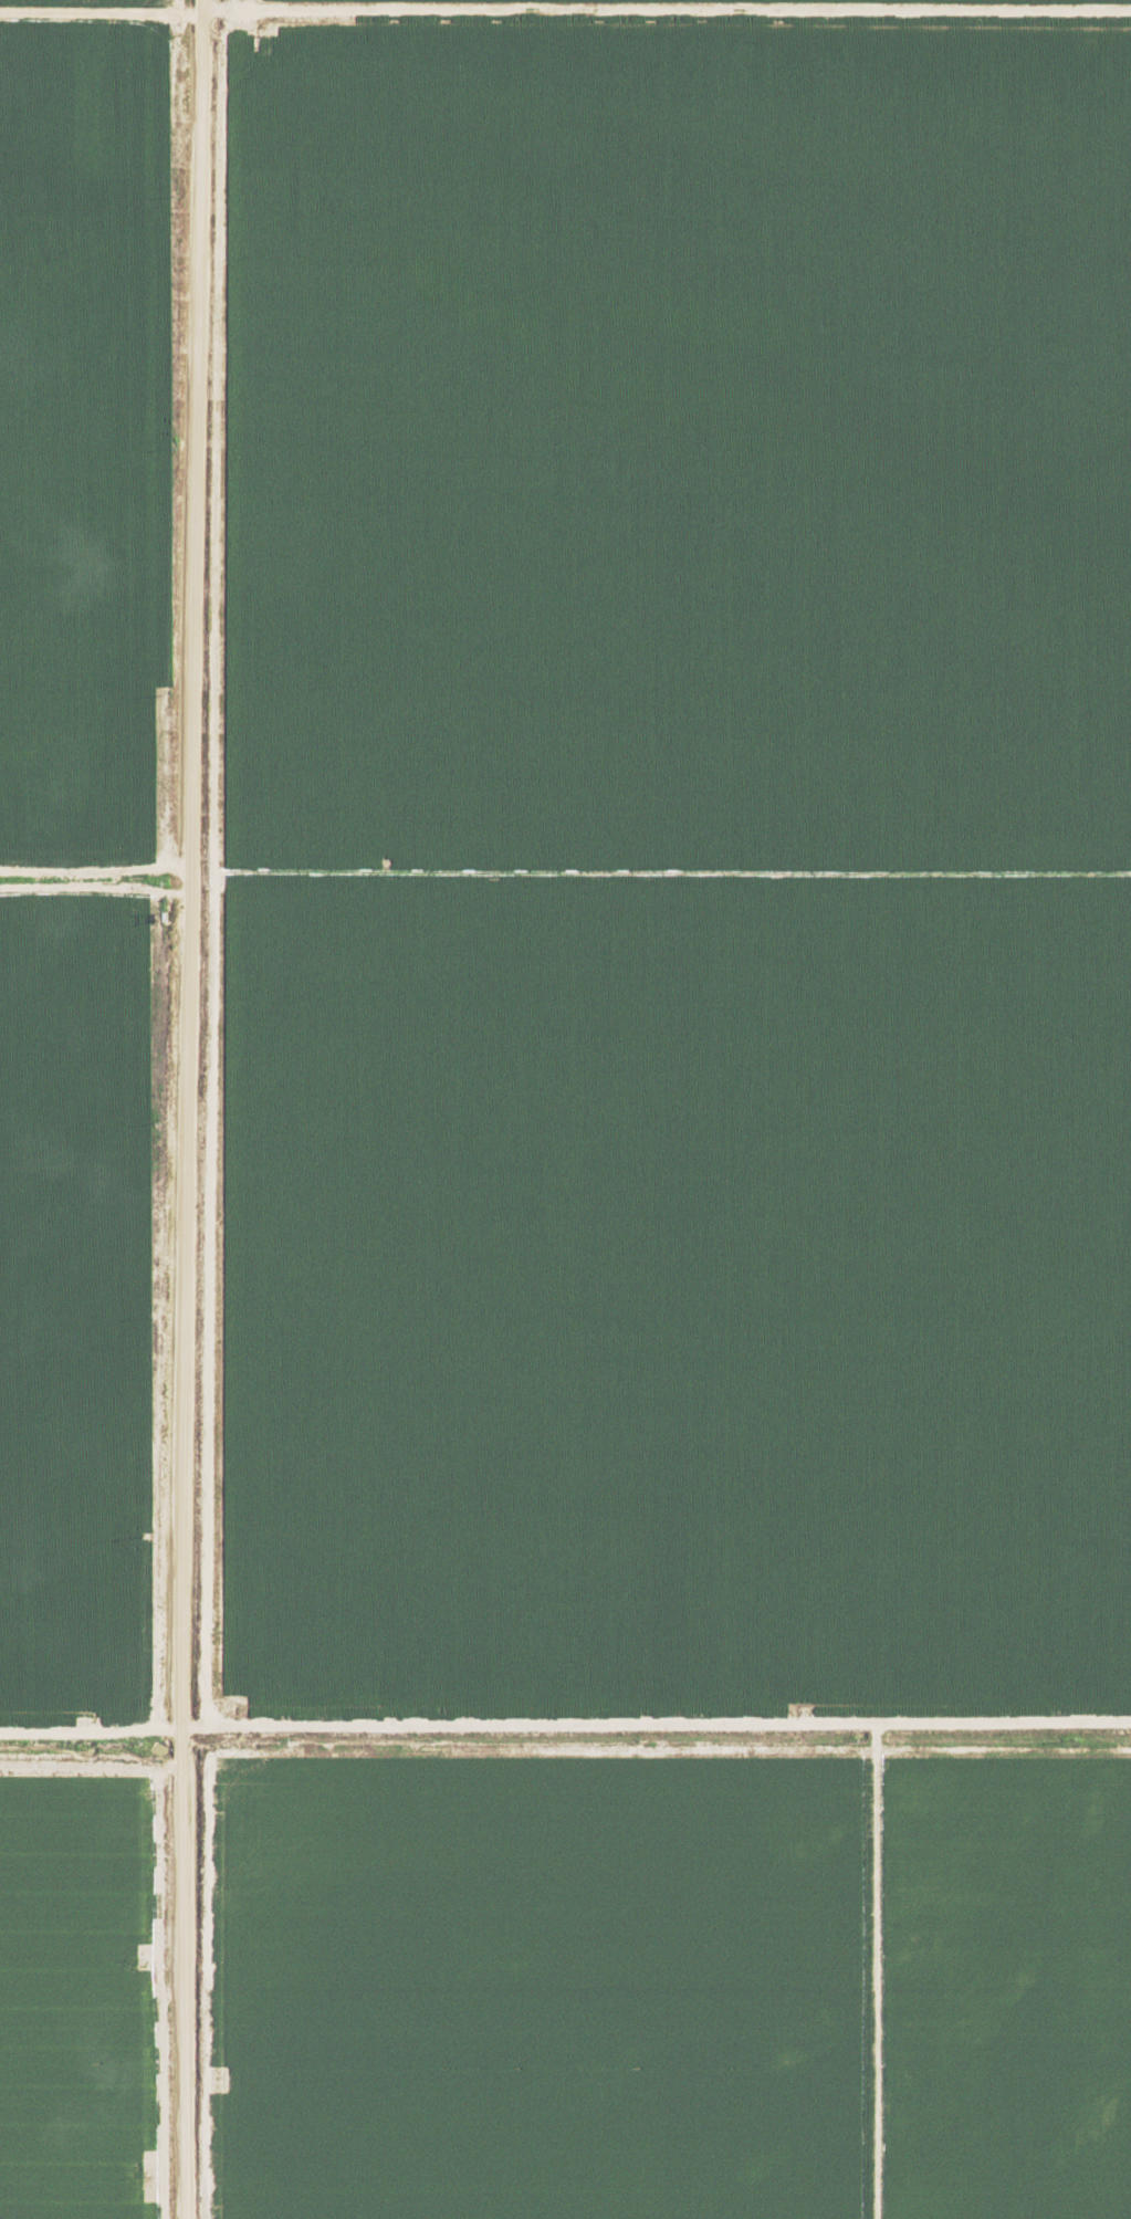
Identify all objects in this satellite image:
road: (565, 4)
road: (182, 1109)
road: (654, 1728)

